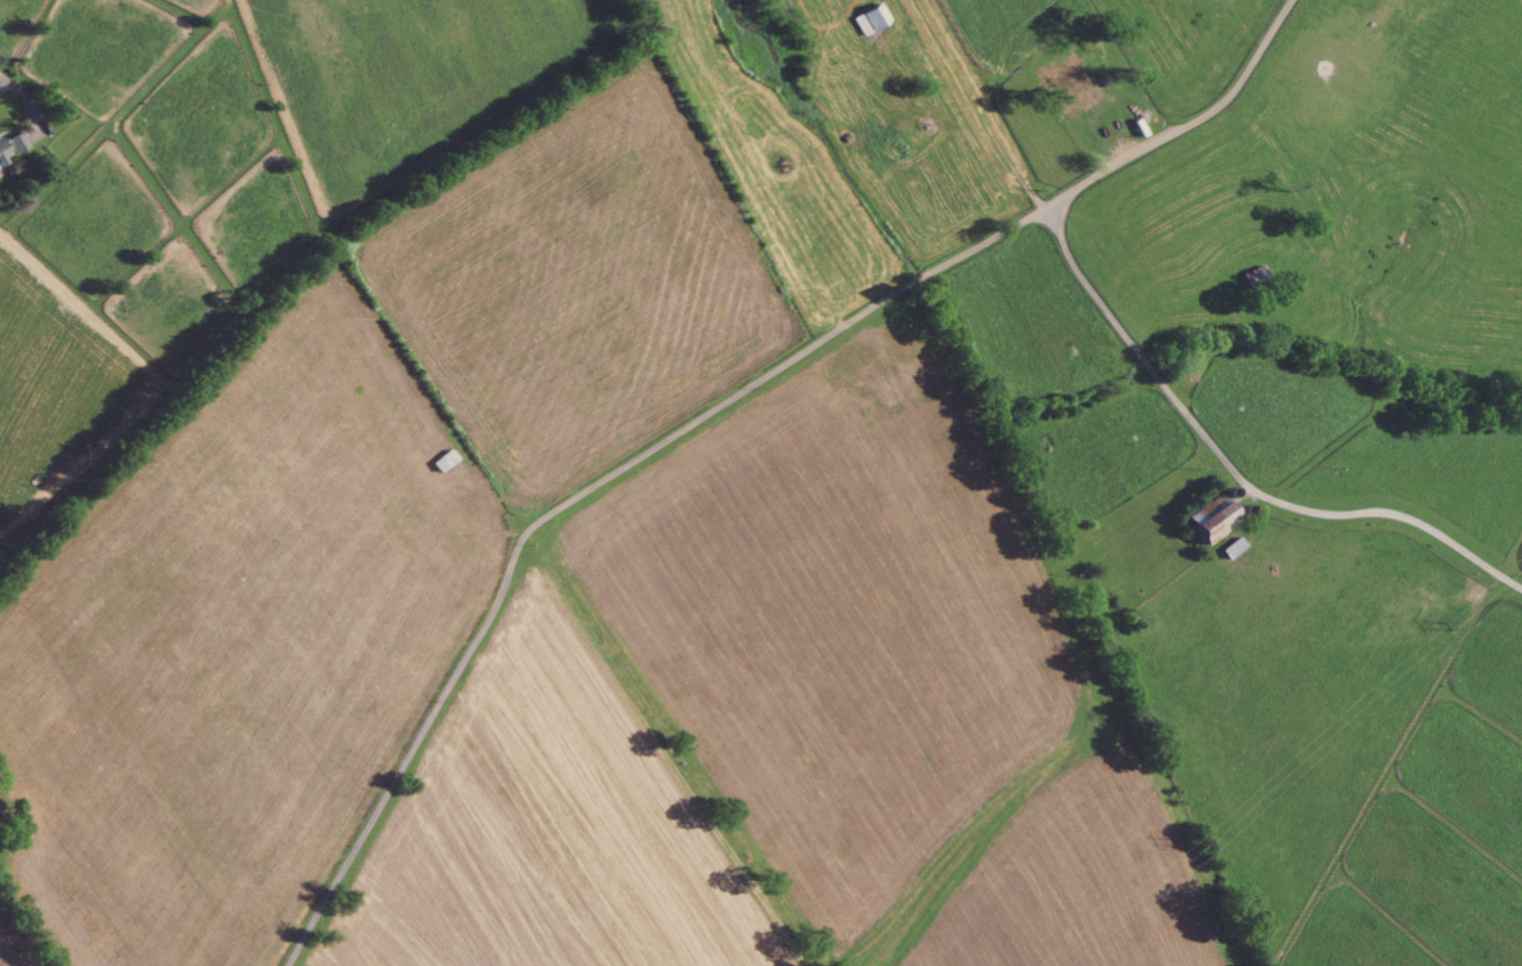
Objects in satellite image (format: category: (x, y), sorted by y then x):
building: (877, 19)
road: (32, 109)
building: (19, 144)
building: (3, 153)
road: (1049, 218)
road: (1138, 345)
road: (587, 486)
building: (1217, 516)
building: (1237, 547)
power tower: (1452, 625)
power tower: (1193, 840)

